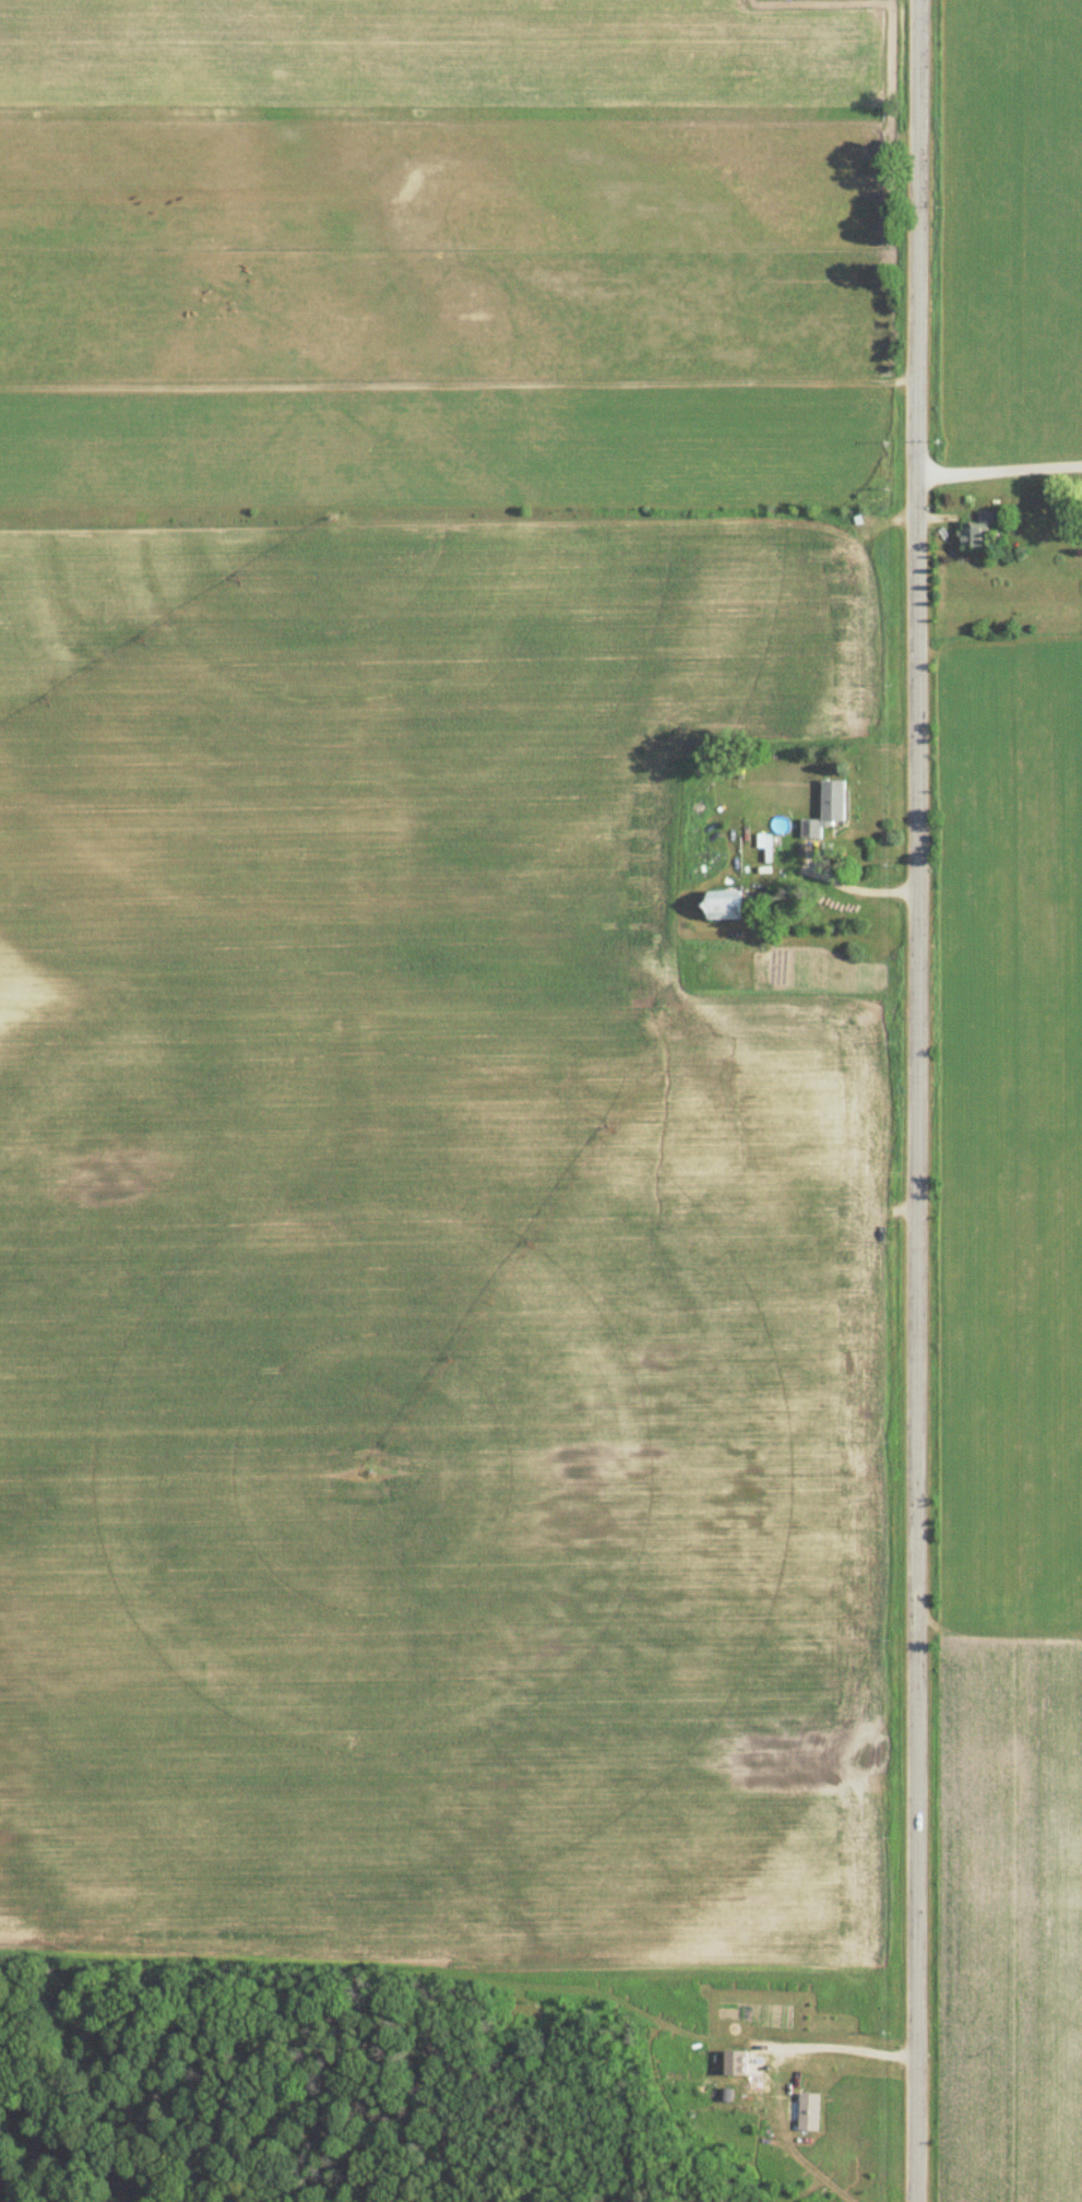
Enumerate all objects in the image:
road: (1000, 443)
building: (976, 530)
building: (825, 809)
road: (851, 890)
building: (722, 904)
road: (917, 1100)
road: (834, 2047)
building: (734, 2062)

